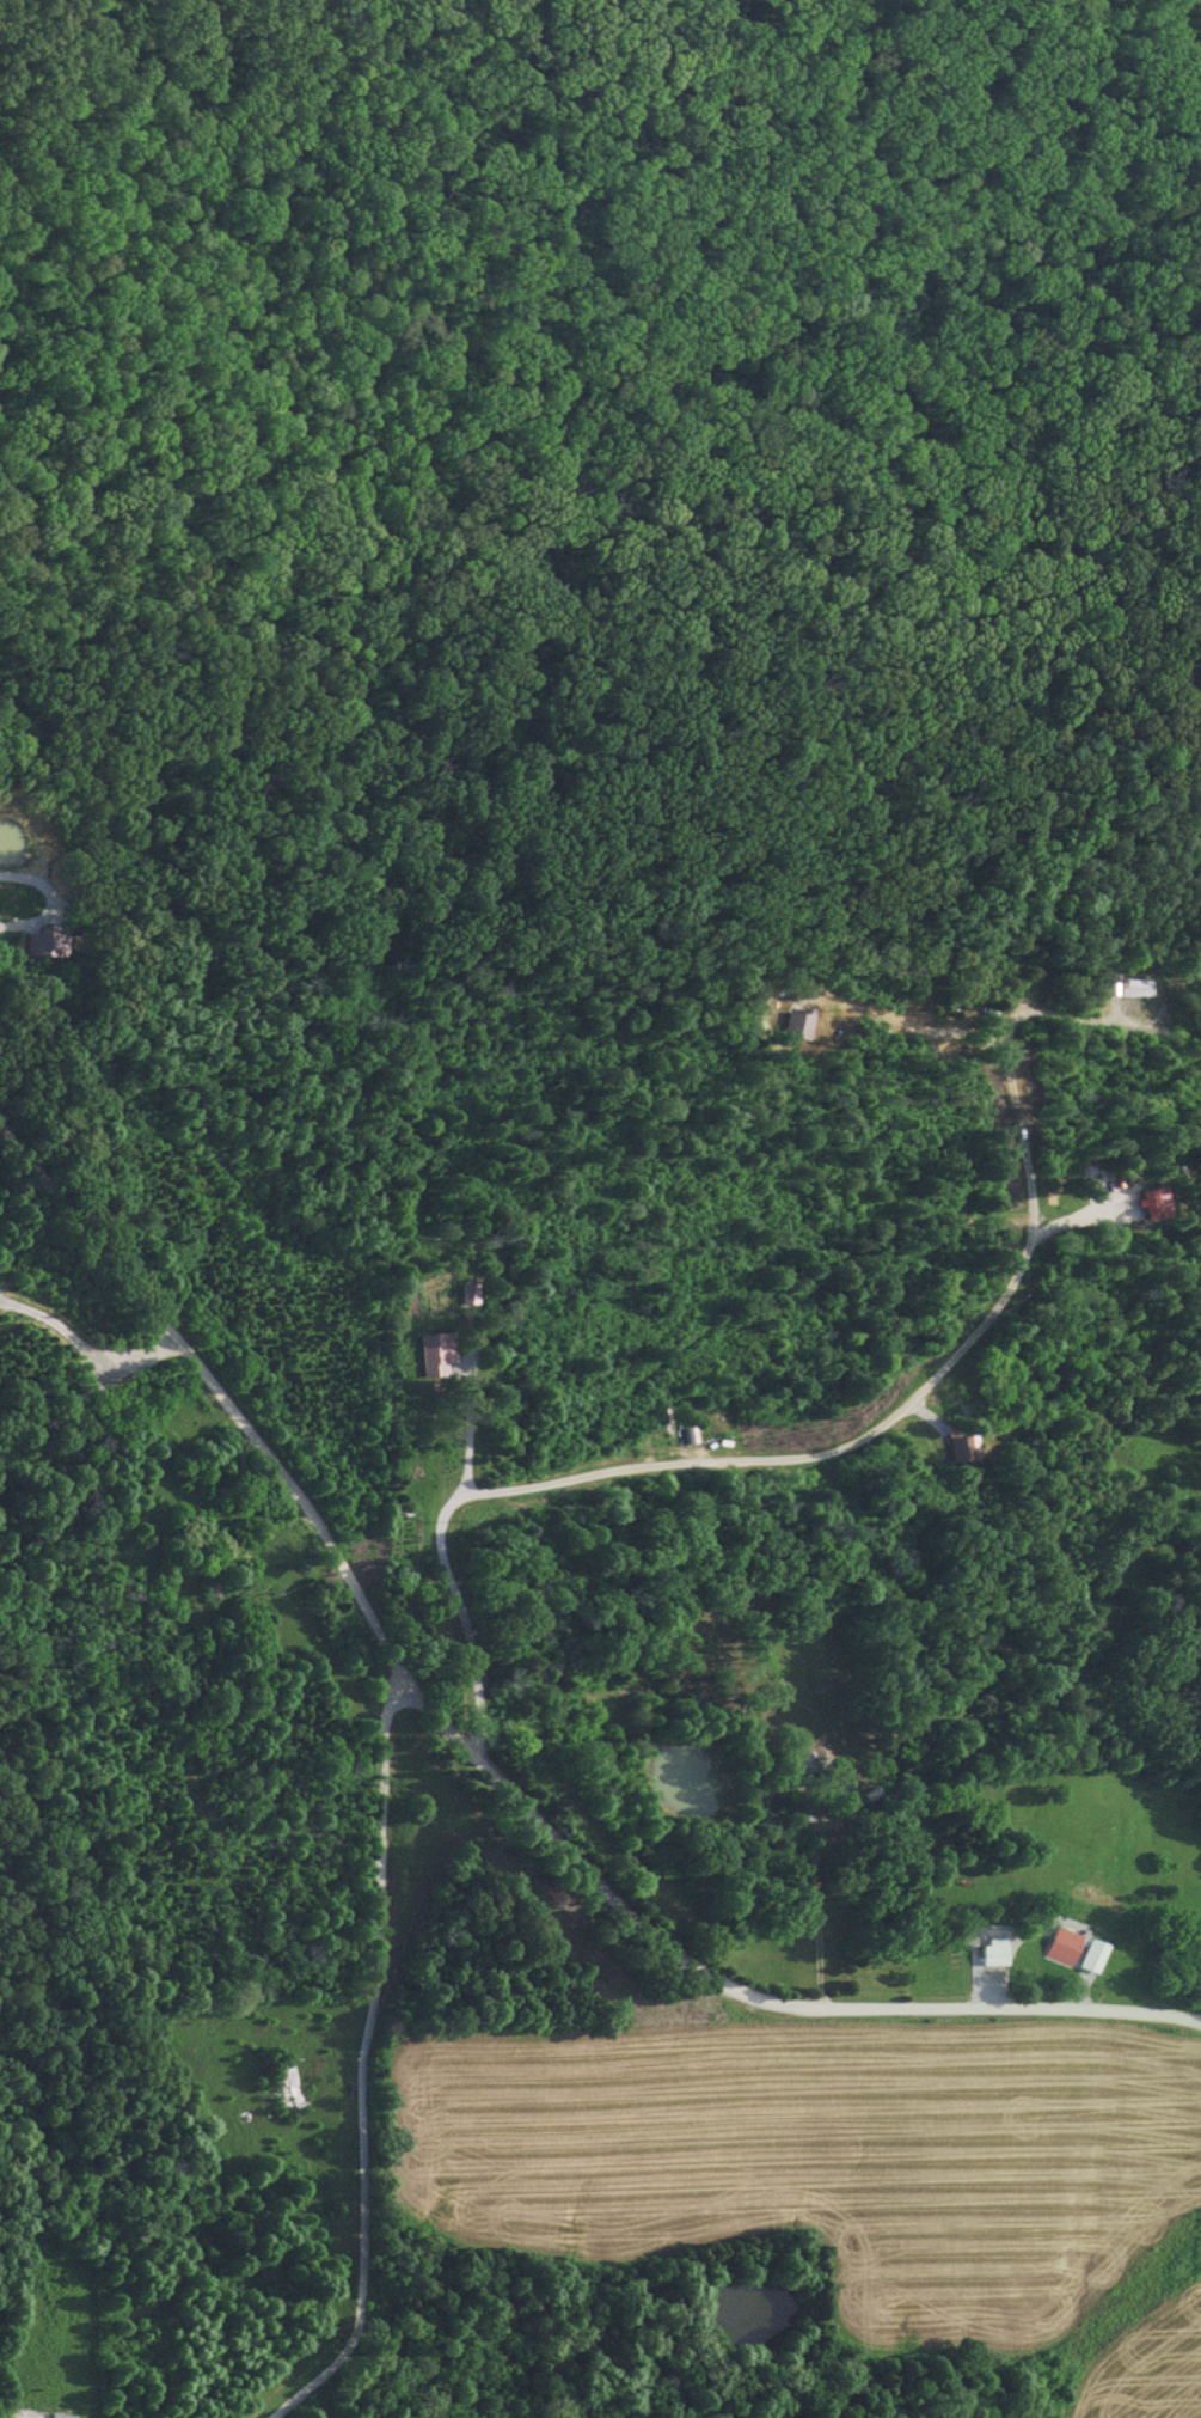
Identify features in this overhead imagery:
building: (1133, 988)
road: (839, 1448)
road: (485, 1760)
building: (1060, 1947)
building: (991, 1953)
building: (1087, 1958)
road: (368, 2060)
building: (282, 2084)

